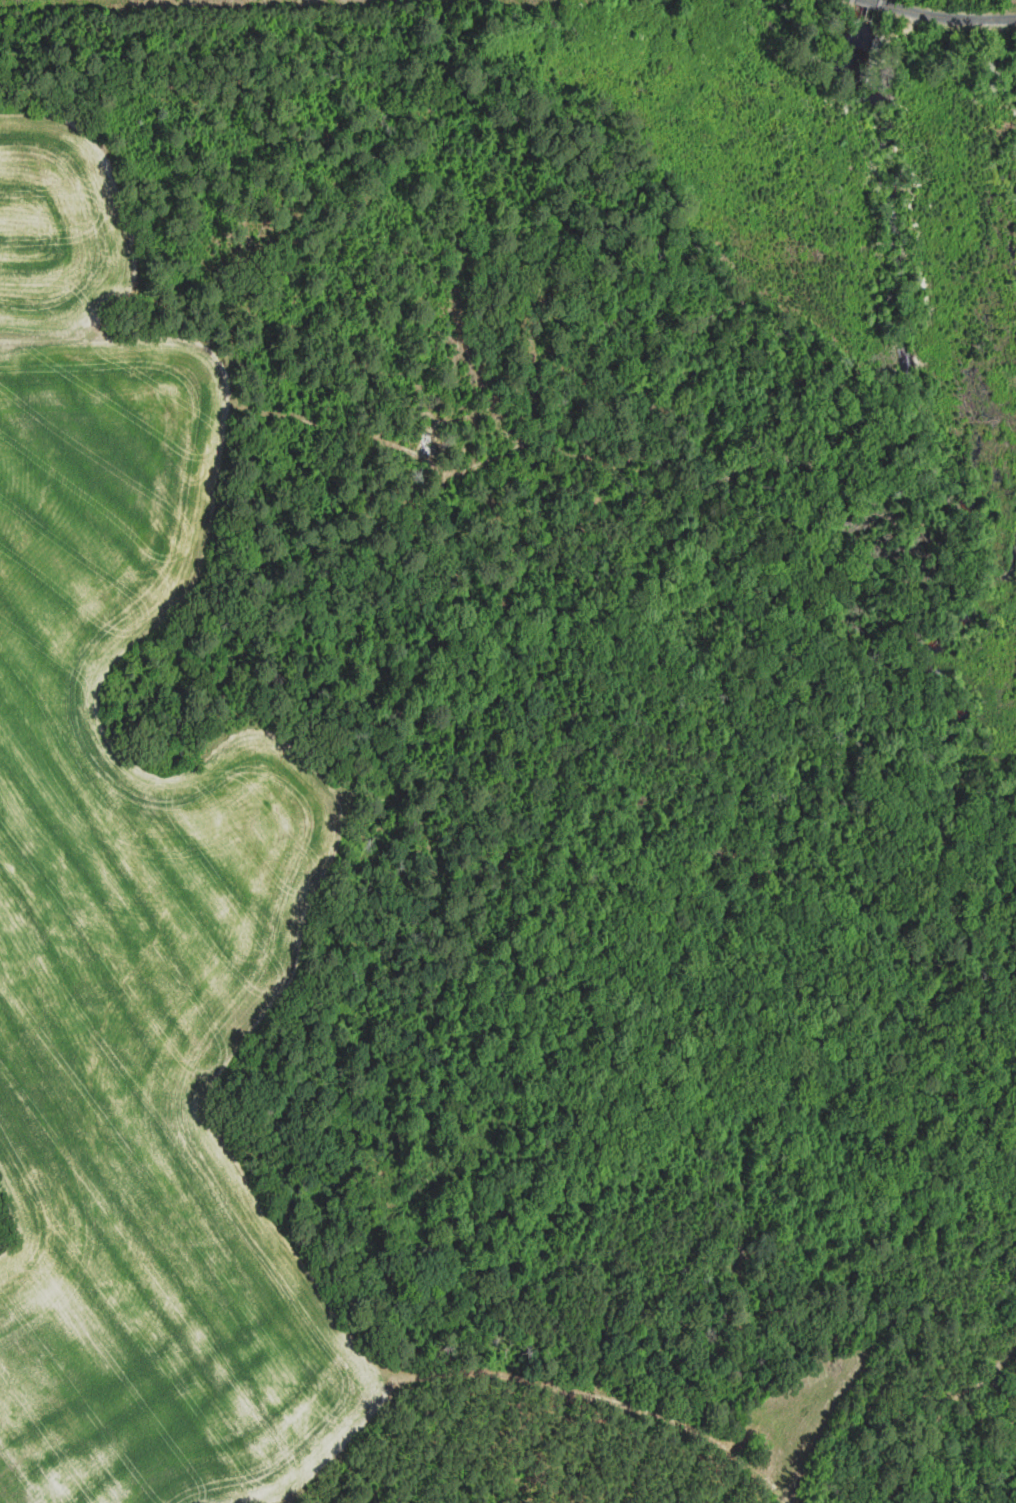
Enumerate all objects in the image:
road: (875, 1)
road: (948, 17)

